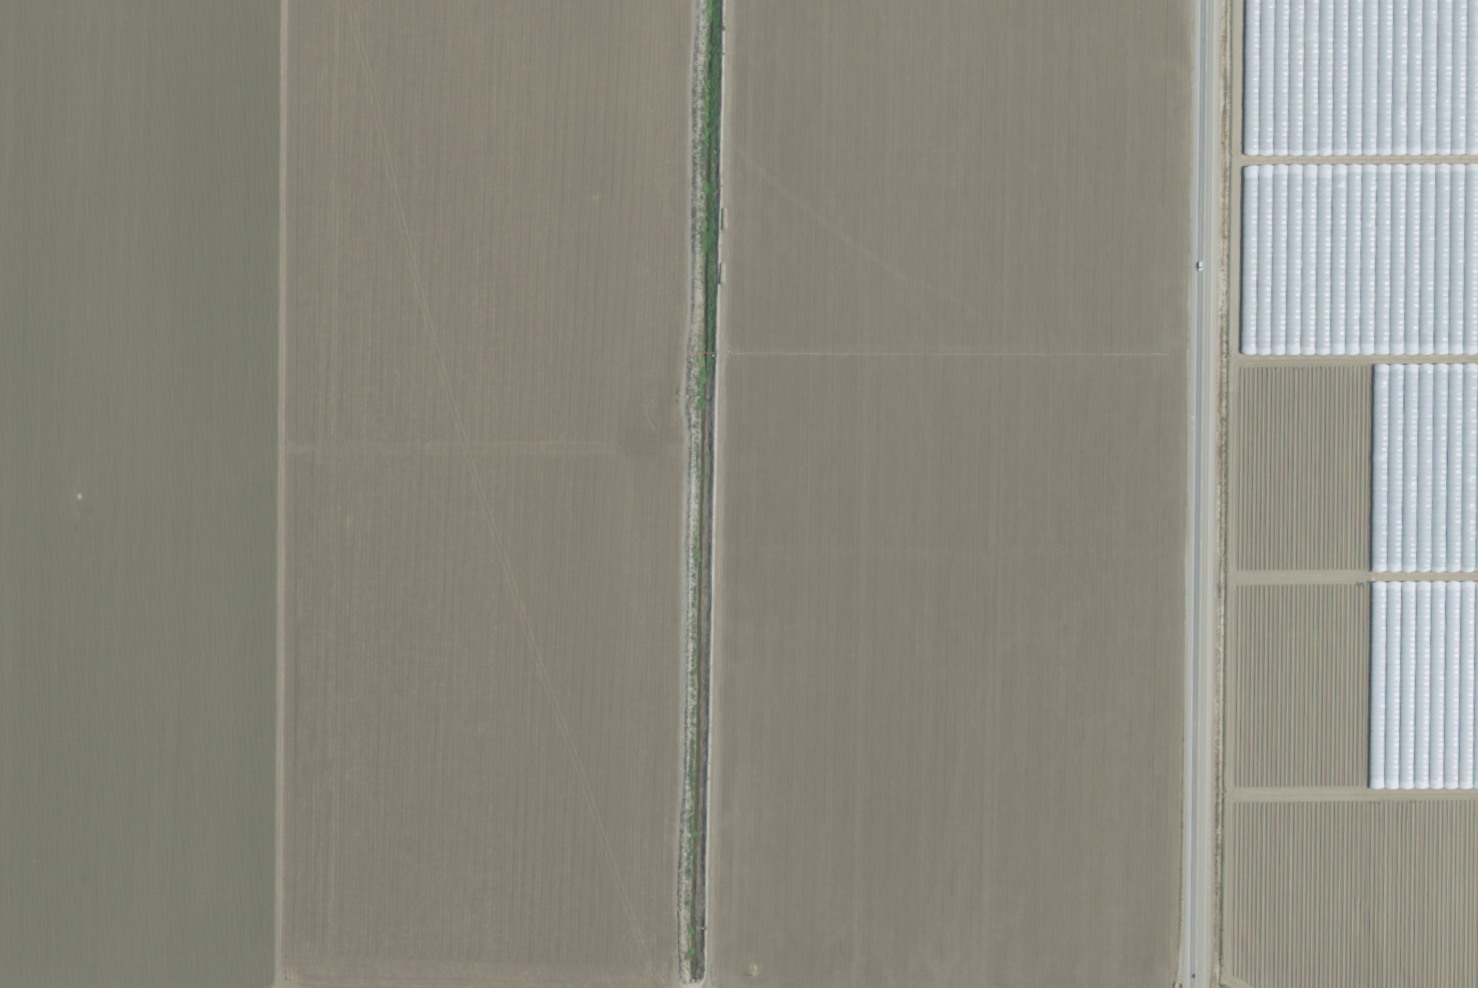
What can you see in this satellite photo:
crop: (594, 493)
road: (1200, 493)
crop: (1351, 497)

